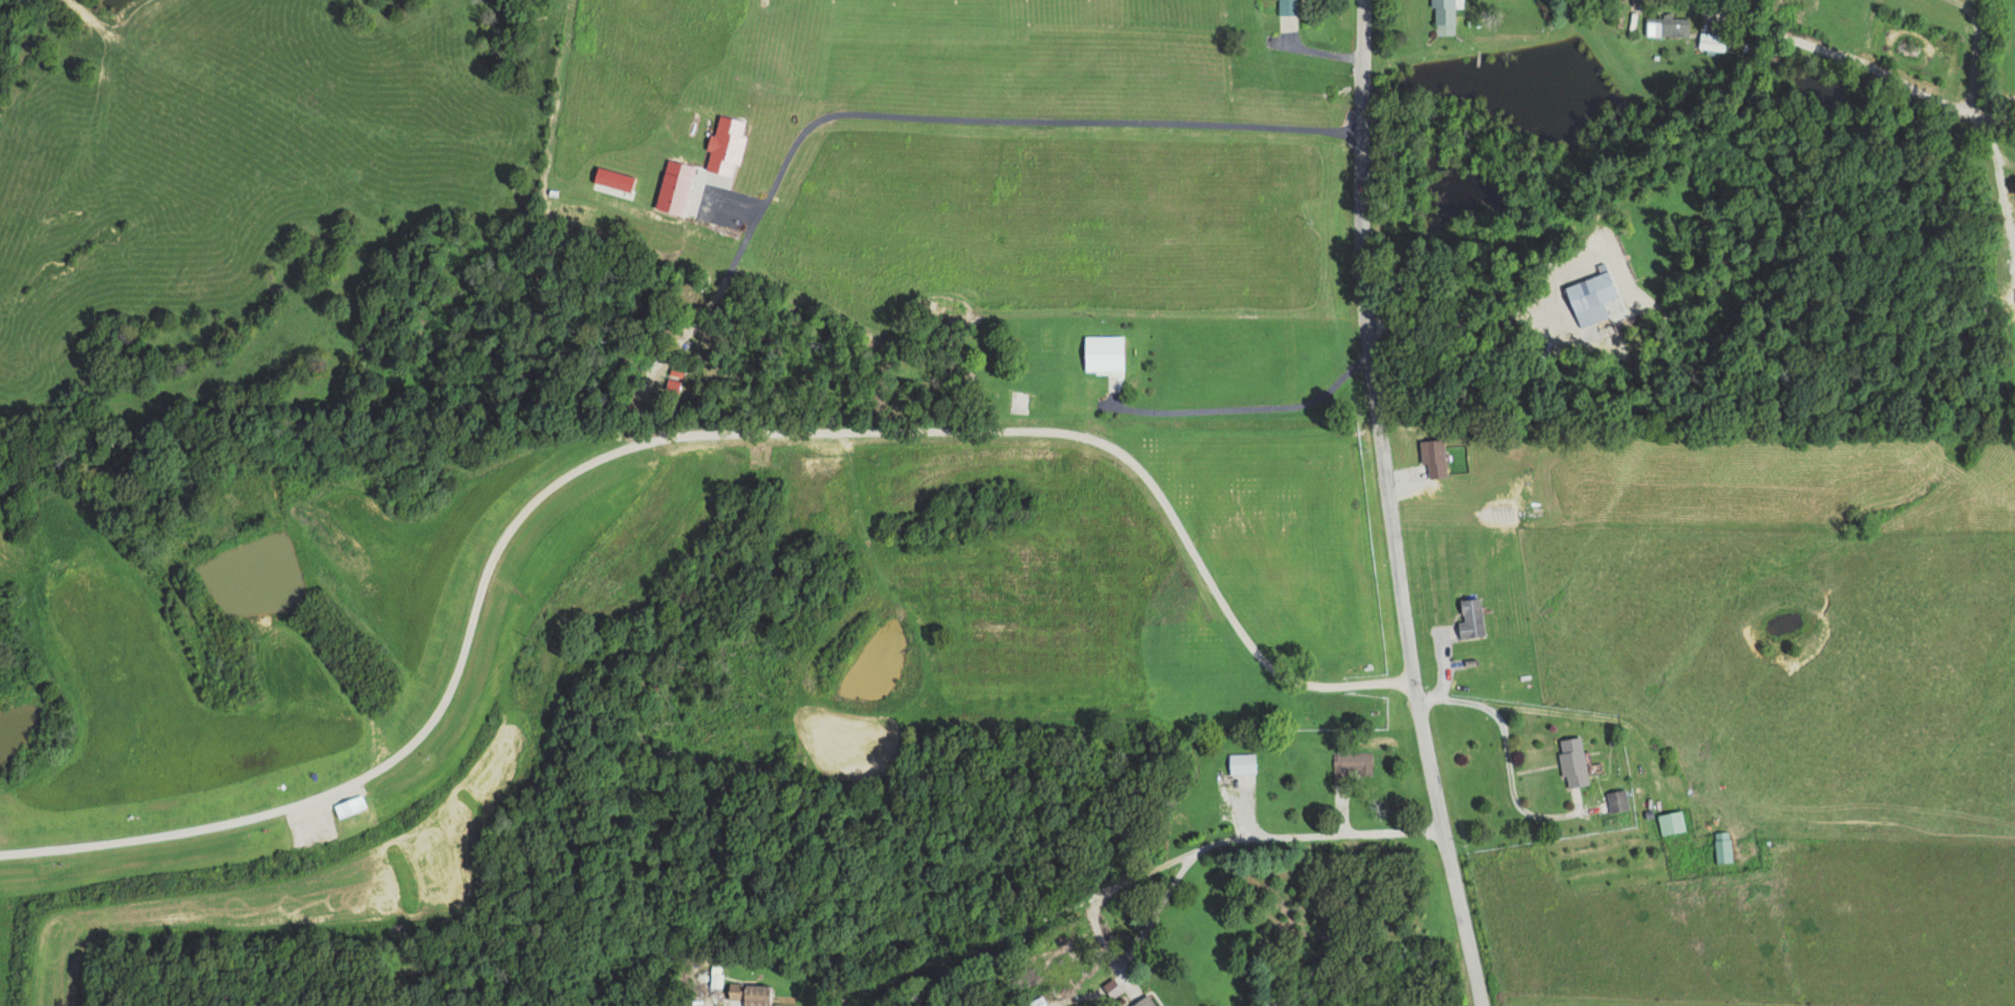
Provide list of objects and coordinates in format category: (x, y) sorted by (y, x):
building: (1287, 7)
building: (1442, 16)
building: (1666, 26)
building: (1711, 41)
road: (1971, 50)
road: (1851, 57)
building: (1589, 291)
building: (1102, 354)
building: (1019, 400)
road: (1246, 407)
building: (1432, 458)
road: (1387, 507)
building: (1470, 619)
building: (1571, 762)
building: (1241, 763)
building: (1348, 764)
building: (1616, 801)
building: (1670, 823)
building: (1721, 847)
road: (1143, 871)
building: (715, 981)
building: (749, 994)
building: (1145, 1001)

